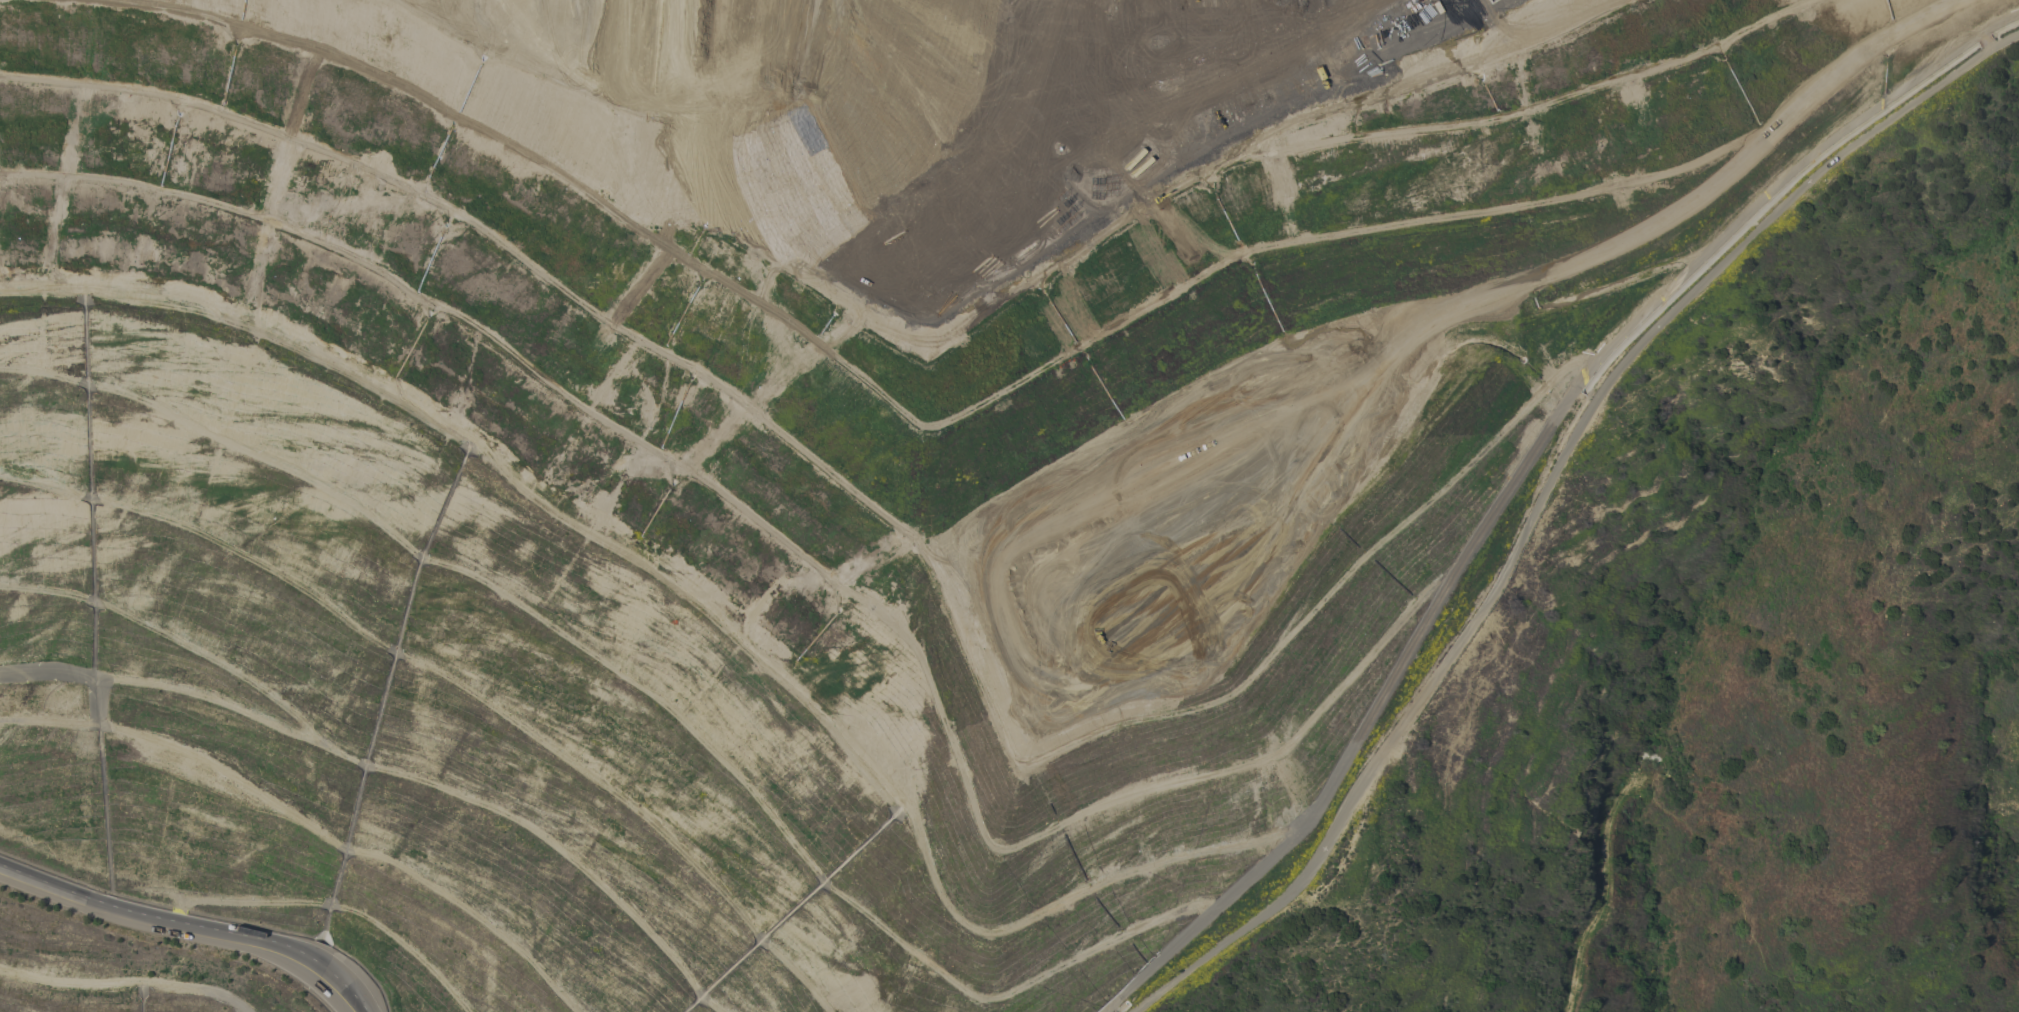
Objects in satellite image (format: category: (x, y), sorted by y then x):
road: (1998, 4)
road: (1969, 23)
road: (1349, 111)
road: (1548, 206)
landfill: (794, 462)
landfill: (794, 462)
road: (1543, 492)
road: (1488, 501)
road: (186, 928)

